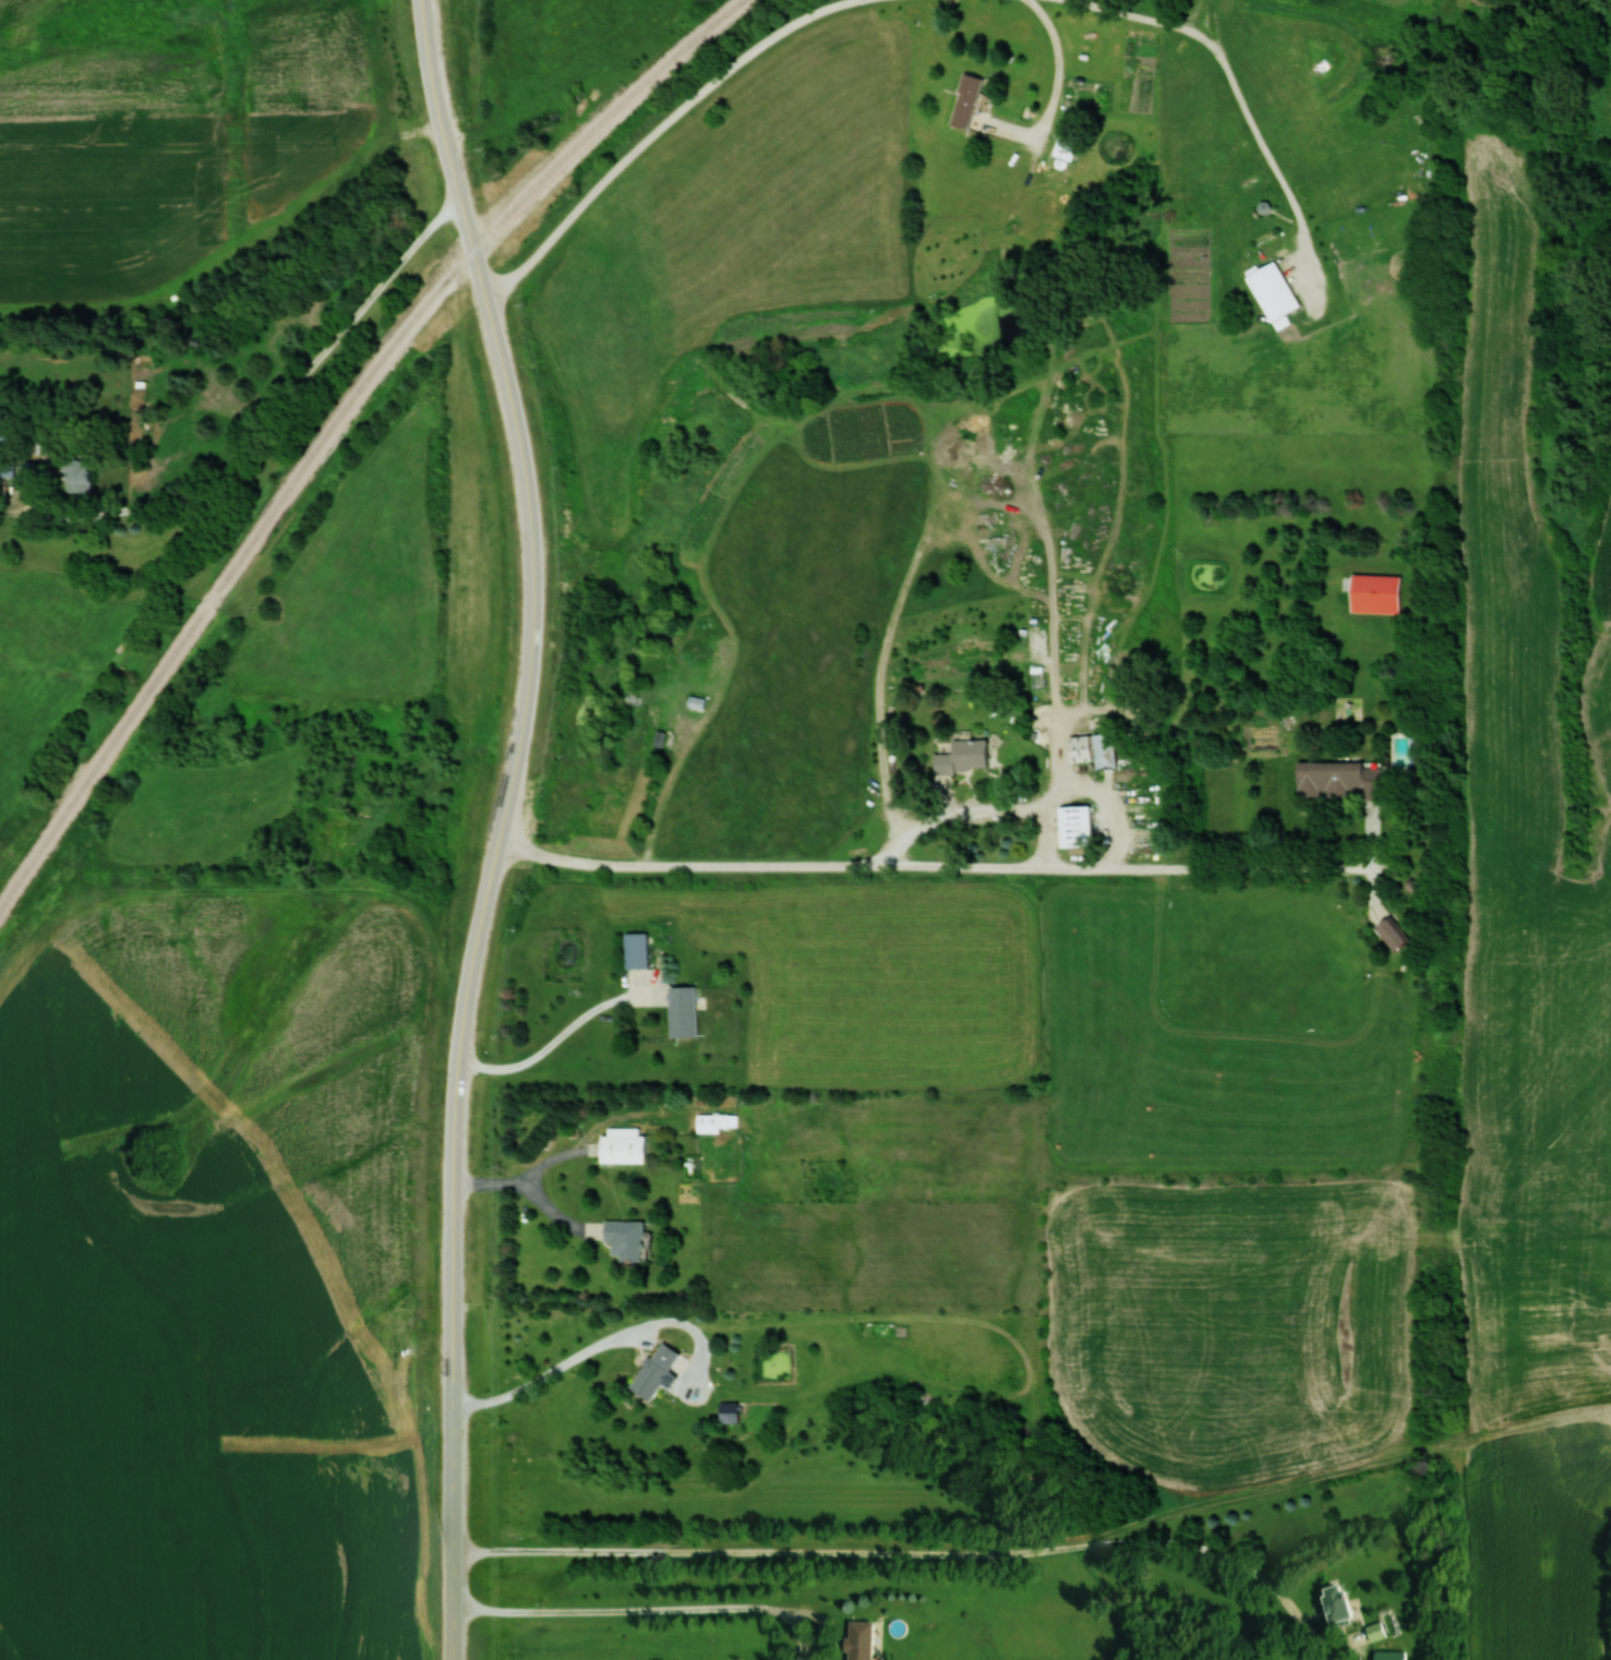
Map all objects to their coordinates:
road: (1056, 87)
road: (1238, 93)
building: (963, 100)
road: (656, 128)
building: (1063, 144)
building: (1271, 291)
road: (281, 413)
railway: (336, 421)
road: (517, 443)
building: (74, 476)
building: (1373, 593)
road: (1066, 696)
building: (649, 714)
building: (1102, 750)
building: (960, 757)
building: (1337, 780)
road: (1083, 791)
building: (1072, 826)
road: (935, 865)
building: (1390, 934)
building: (634, 951)
road: (471, 965)
building: (681, 1012)
building: (710, 1122)
road: (420, 1134)
building: (620, 1145)
building: (621, 1239)
building: (651, 1371)
road: (421, 1397)
road: (894, 1552)
building: (1333, 1601)
road: (453, 1634)
building: (856, 1639)
building: (1386, 1655)

